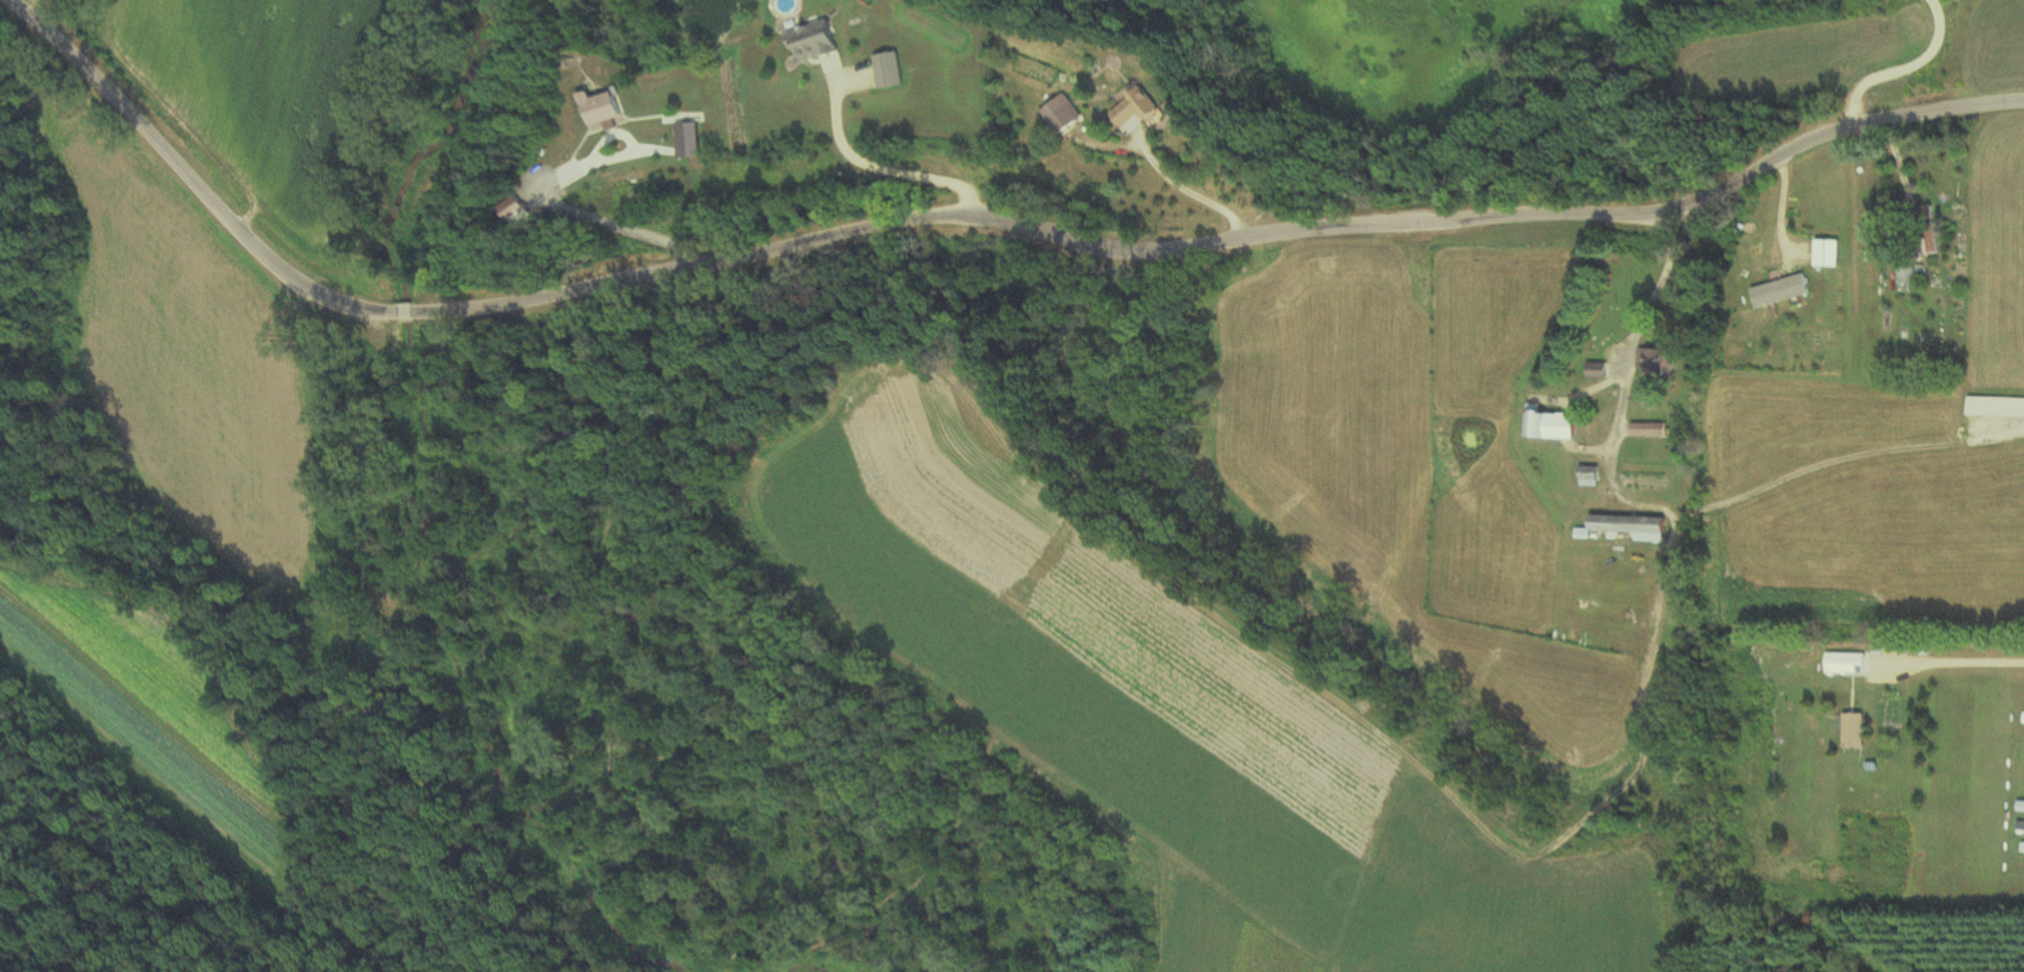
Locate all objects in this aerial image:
road: (1895, 67)
road: (875, 168)
road: (548, 191)
road: (1185, 191)
road: (960, 221)
road: (1955, 662)

